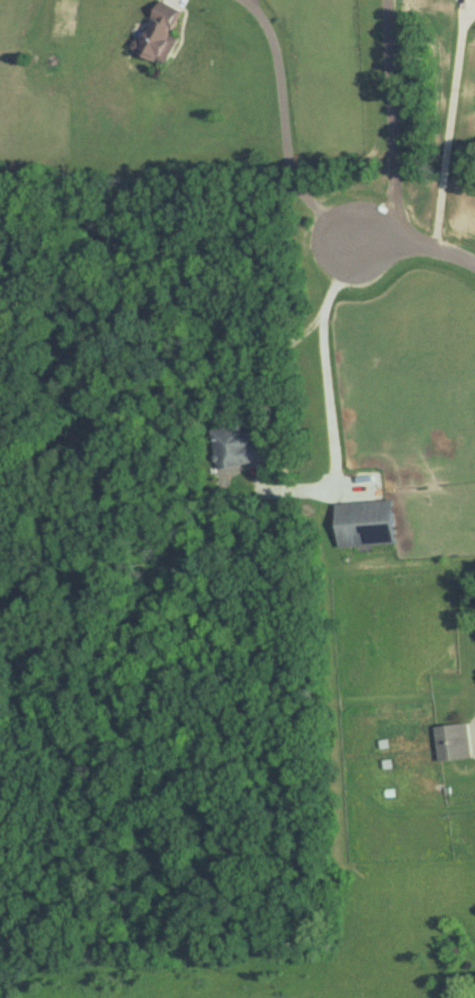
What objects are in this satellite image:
building: (158, 32)
road: (391, 120)
road: (449, 128)
road: (284, 129)
road: (417, 245)
building: (234, 447)
road: (270, 451)
building: (363, 522)
building: (453, 741)

